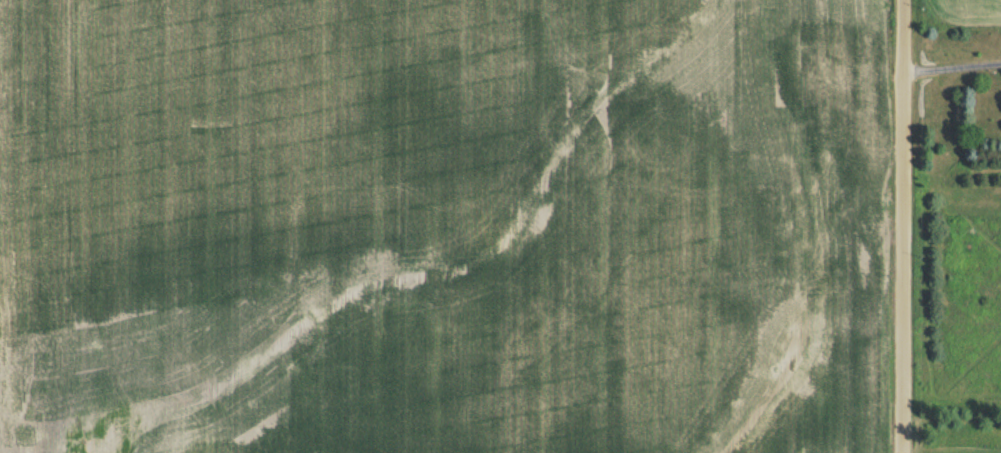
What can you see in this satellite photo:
crop: (969, 11)
road: (952, 71)
road: (903, 226)

